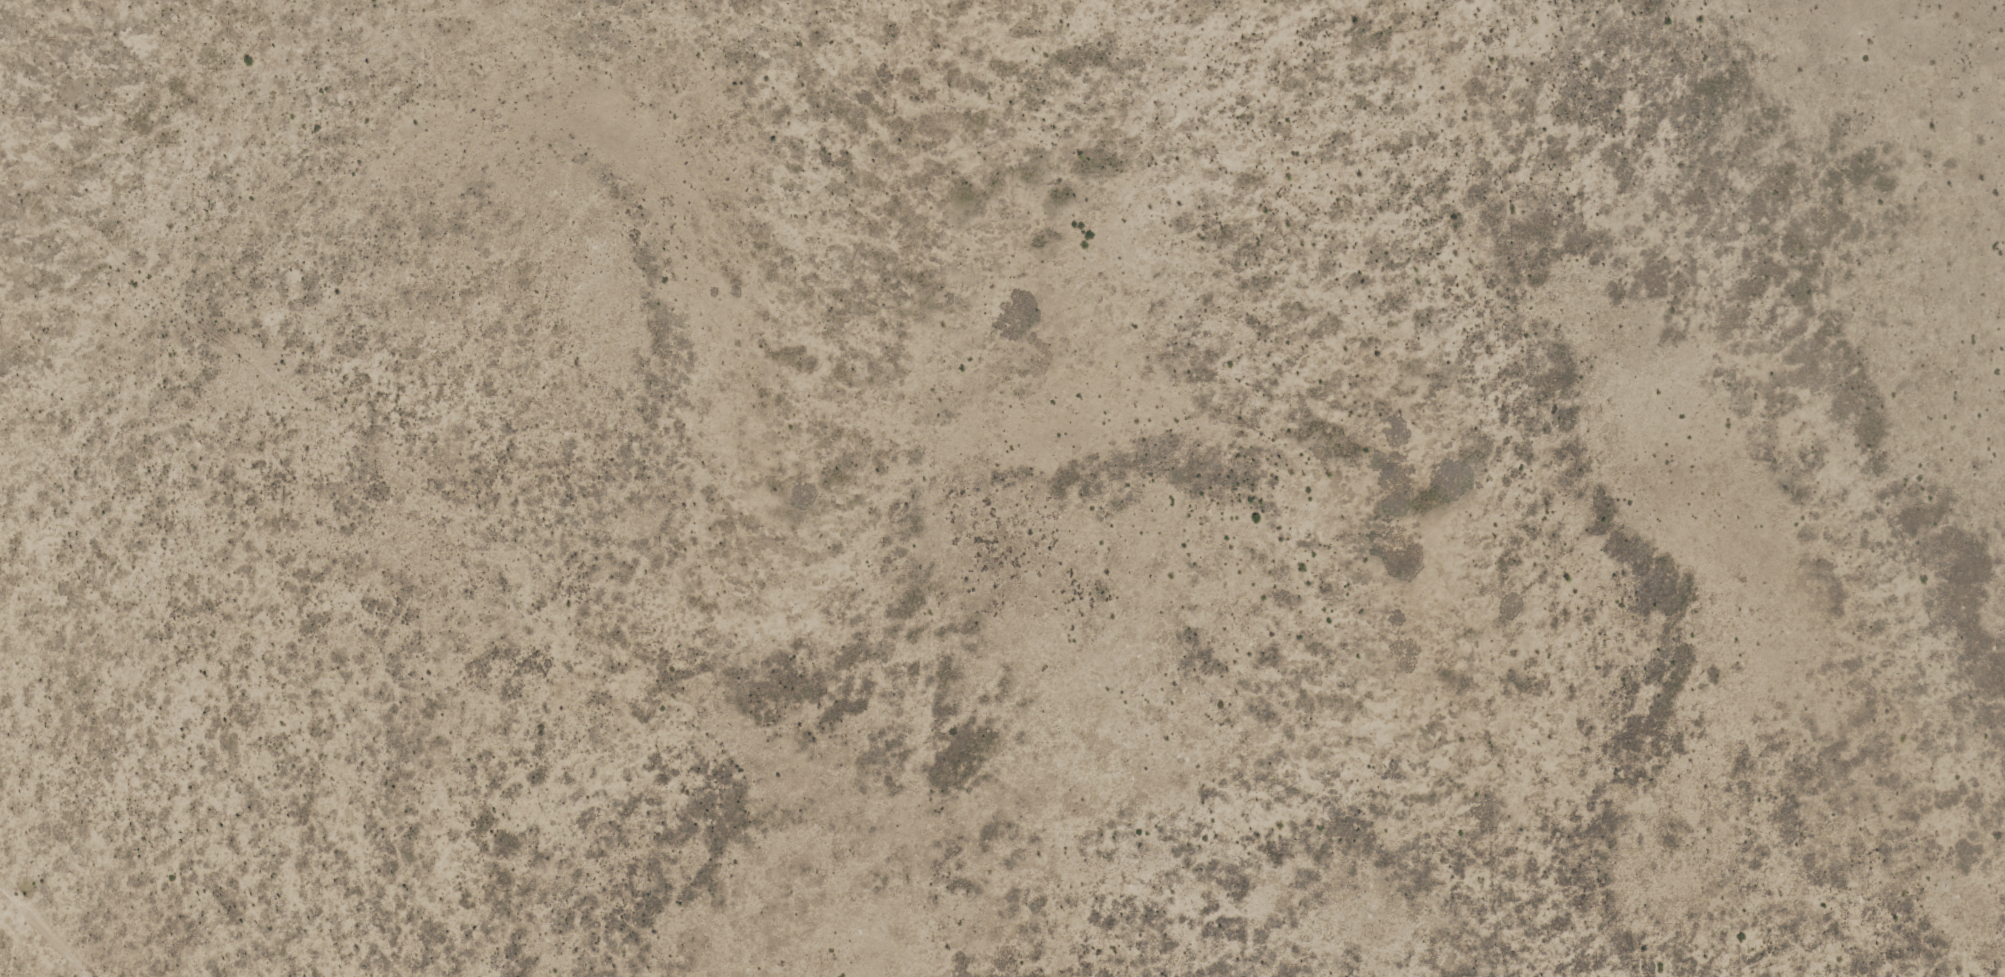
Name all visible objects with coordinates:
road: (20, 955)

